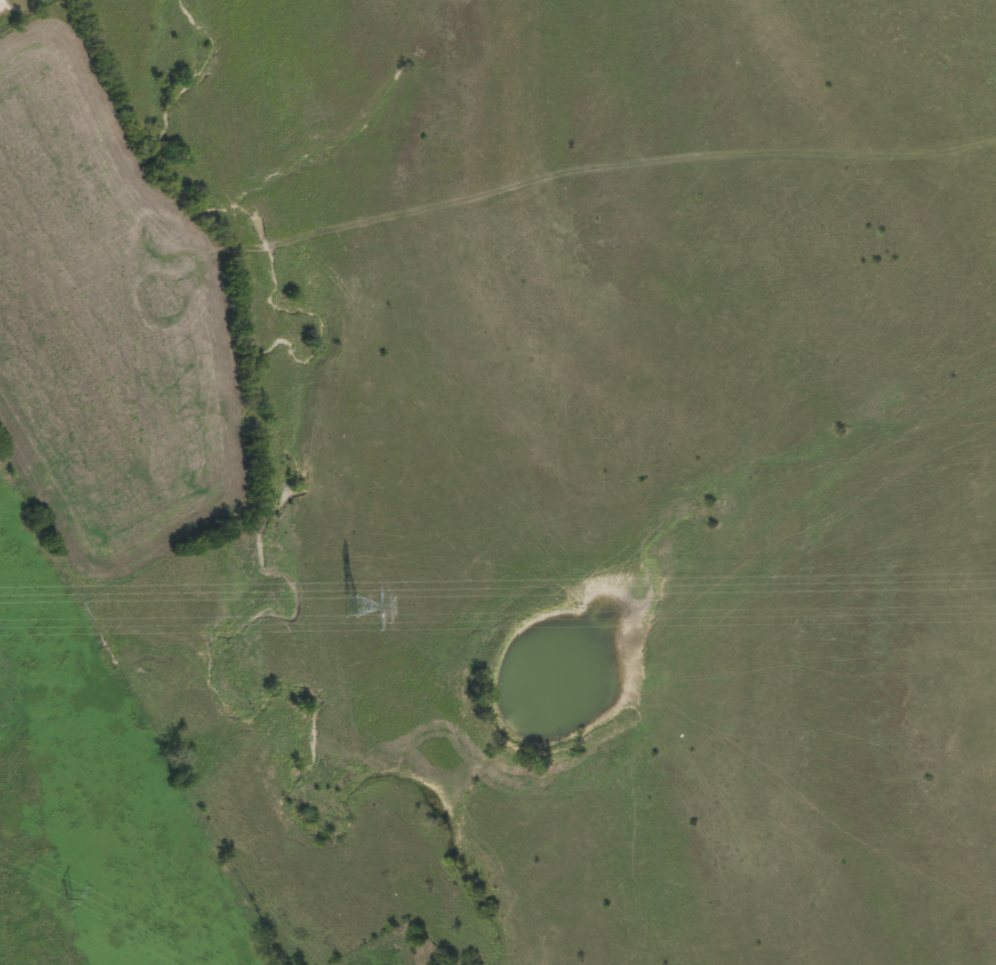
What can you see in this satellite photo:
power tower: (349, 604)

